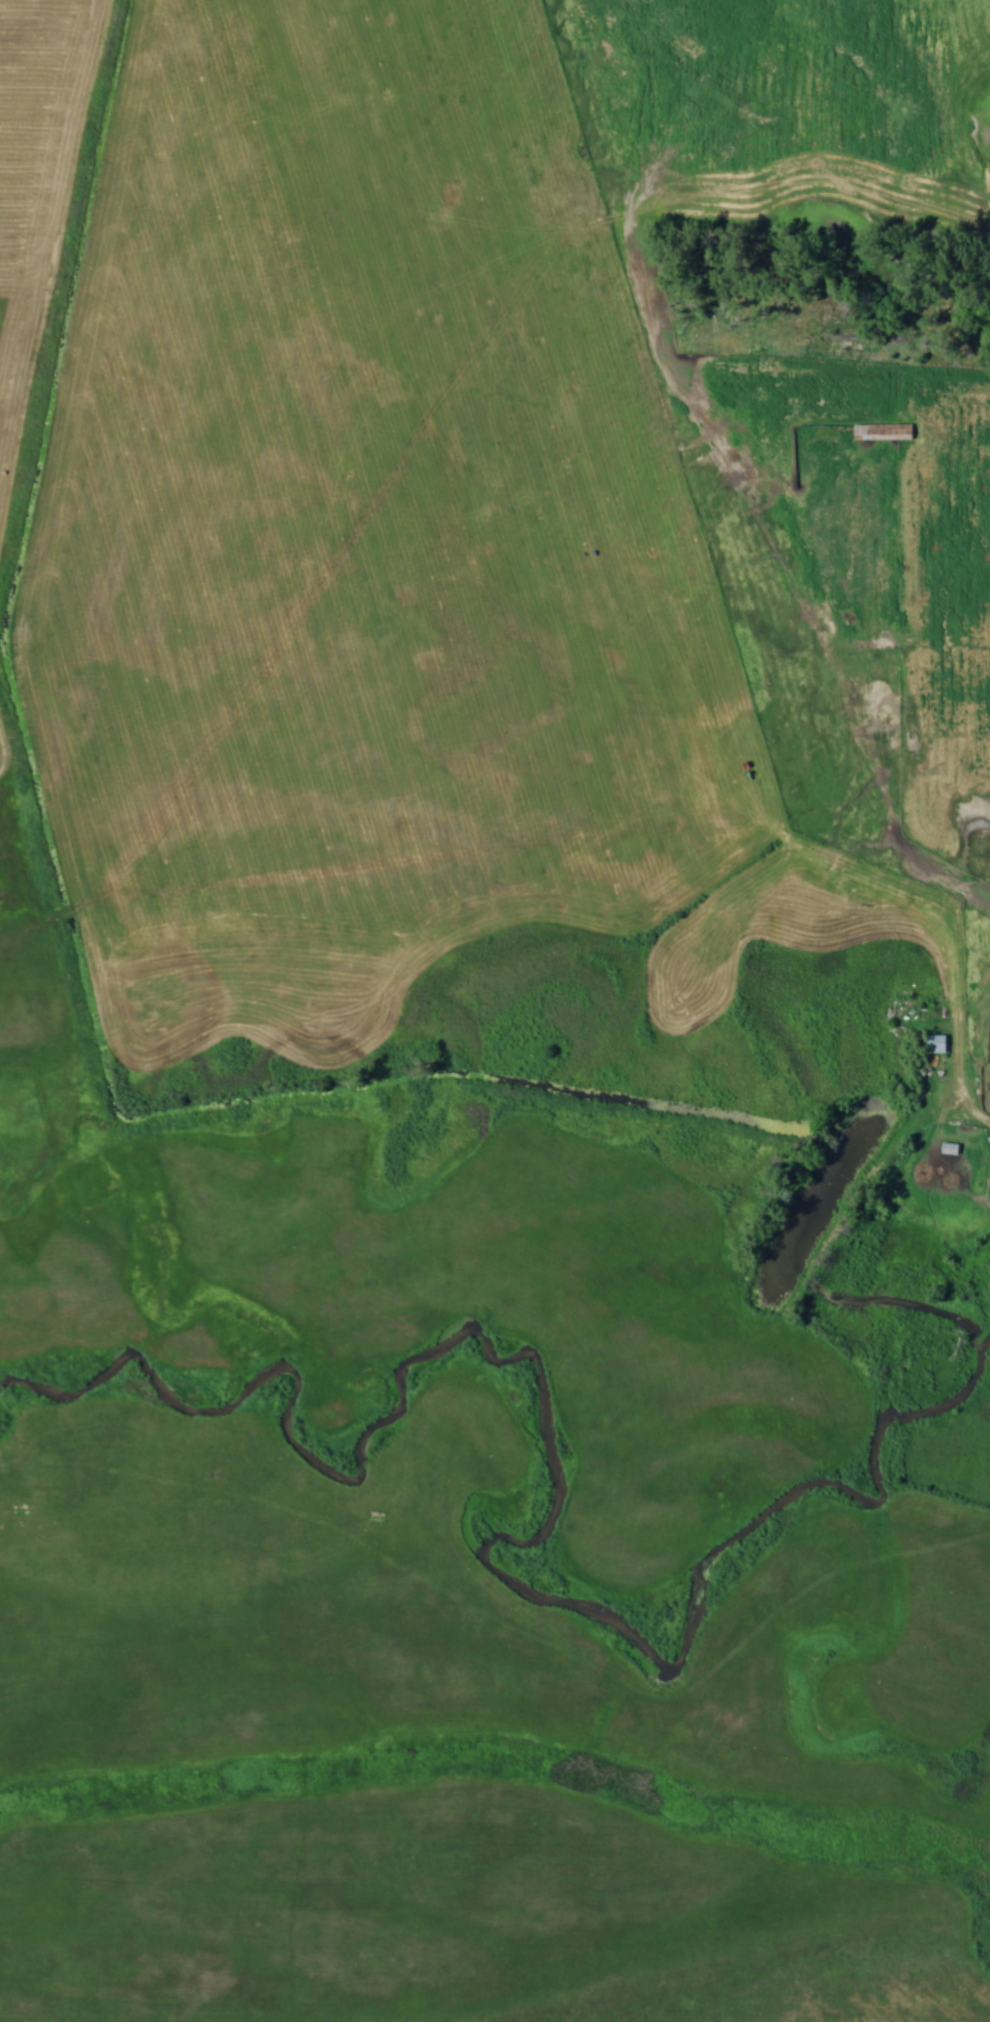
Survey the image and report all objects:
building: (885, 434)
building: (938, 1045)

